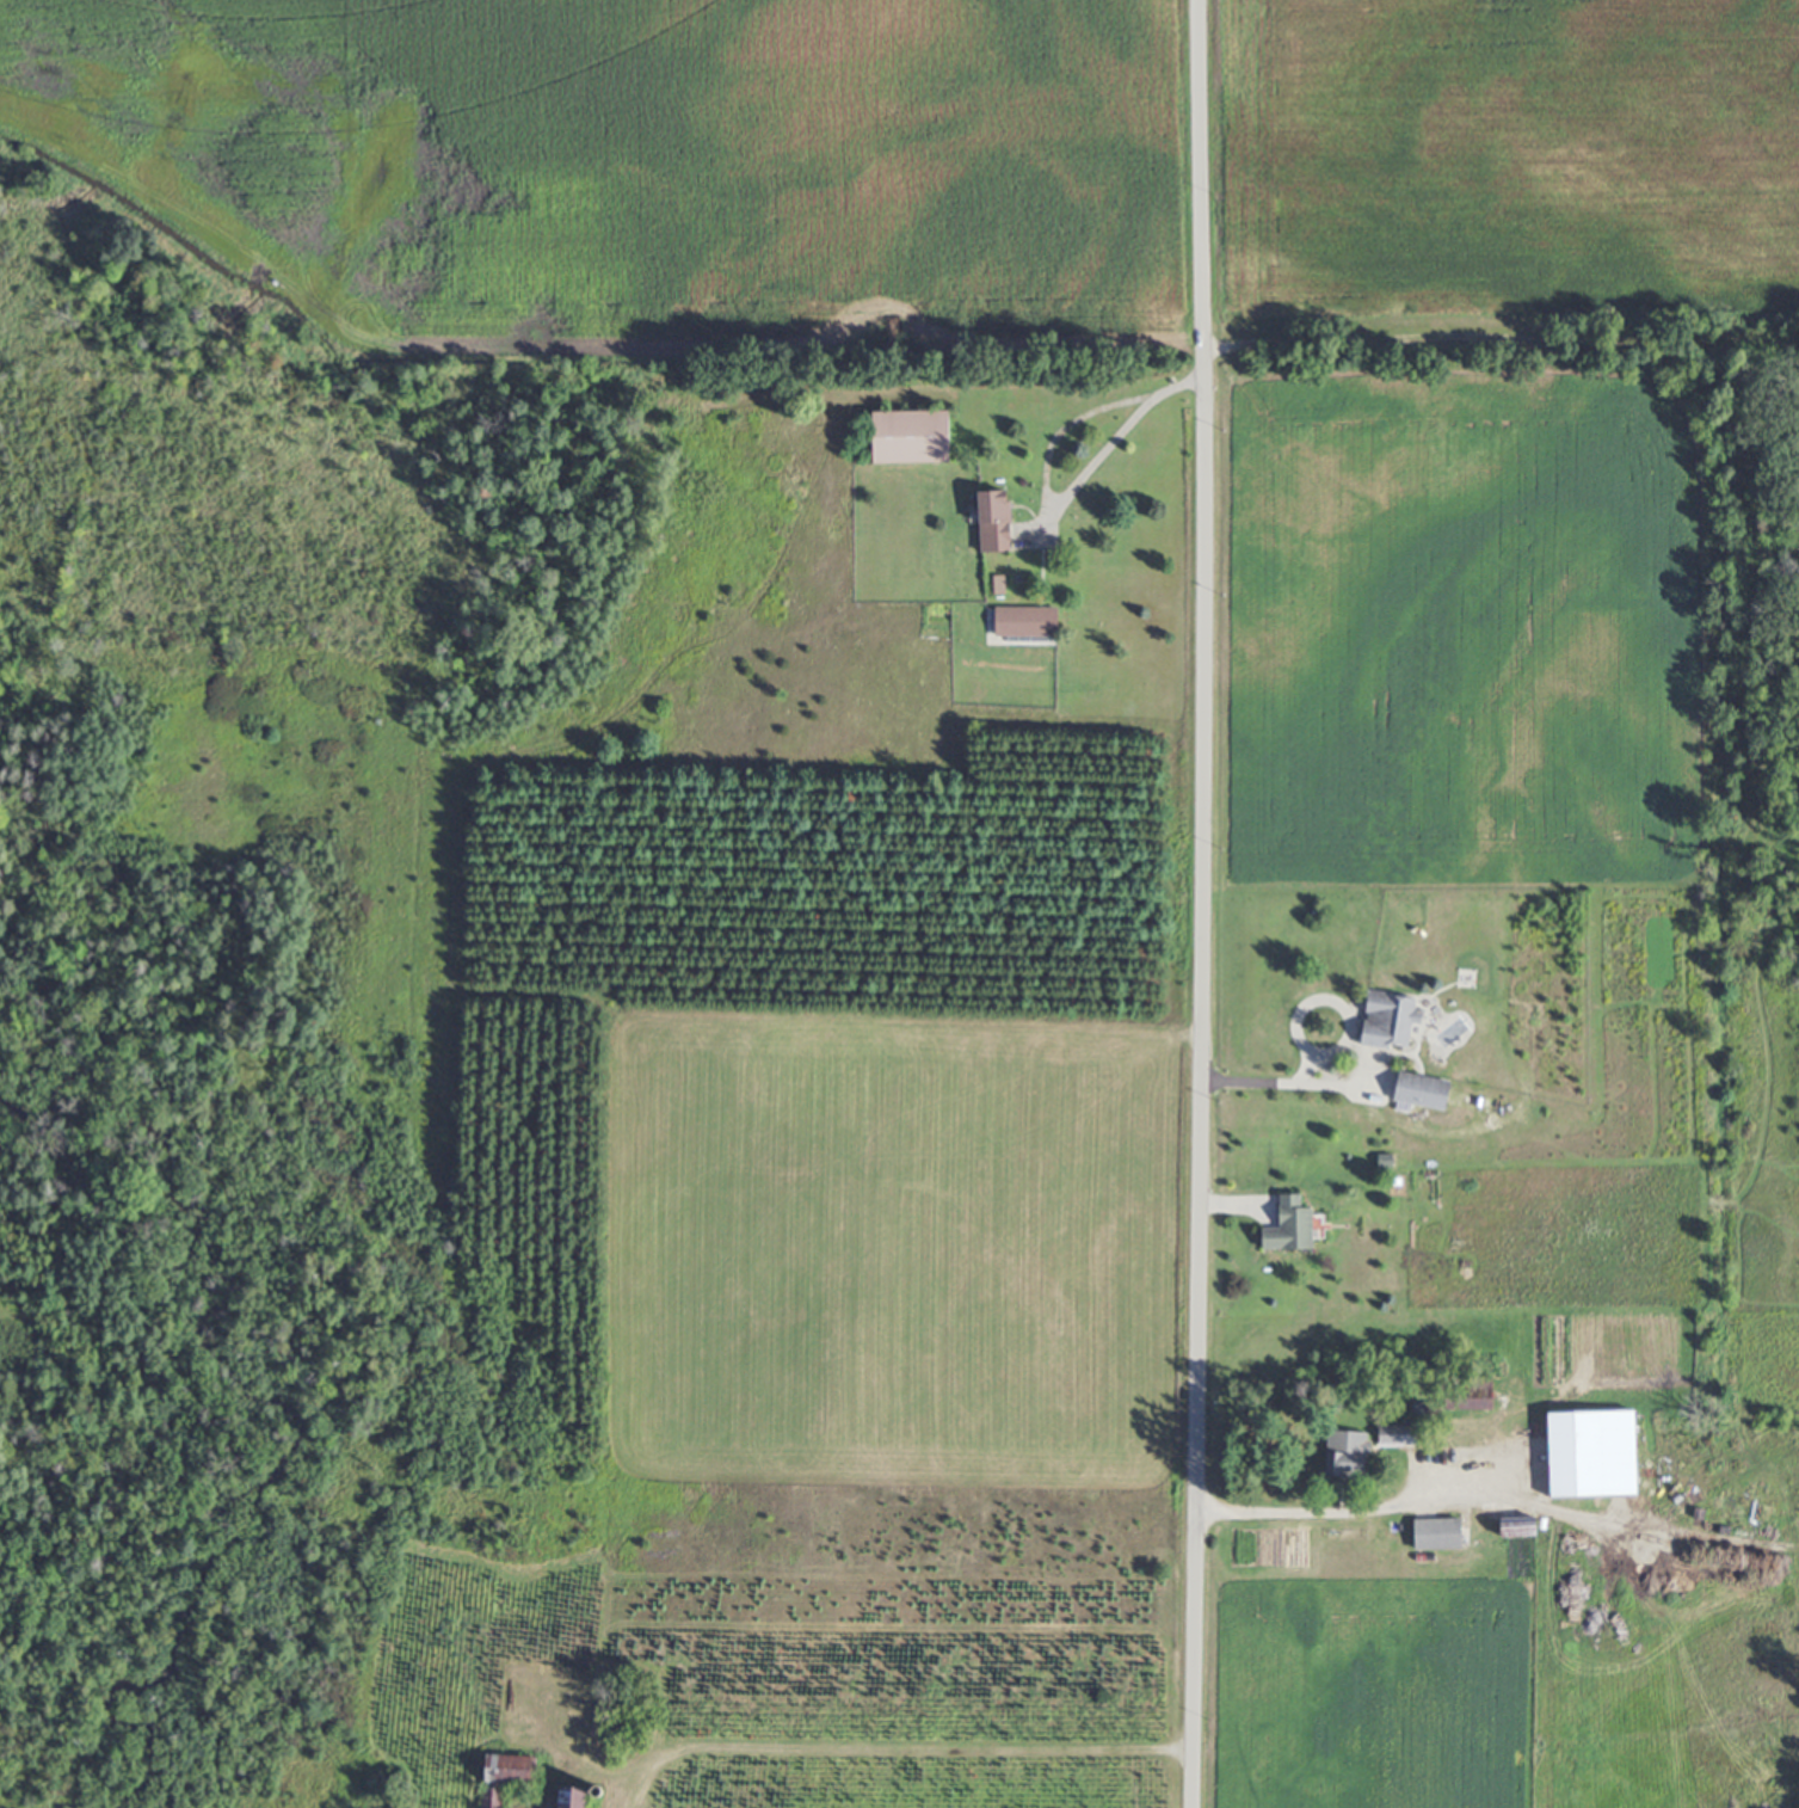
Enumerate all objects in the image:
building: (910, 448)
road: (1068, 492)
building: (993, 533)
building: (1025, 633)
road: (1203, 903)
road: (1301, 1009)
building: (1387, 1032)
road: (1311, 1062)
road: (1288, 1077)
building: (1423, 1103)
building: (1289, 1238)
building: (1343, 1472)
building: (1484, 1474)
road: (1317, 1508)
building: (1518, 1539)
building: (1437, 1546)
road: (900, 1738)
building: (504, 1783)

